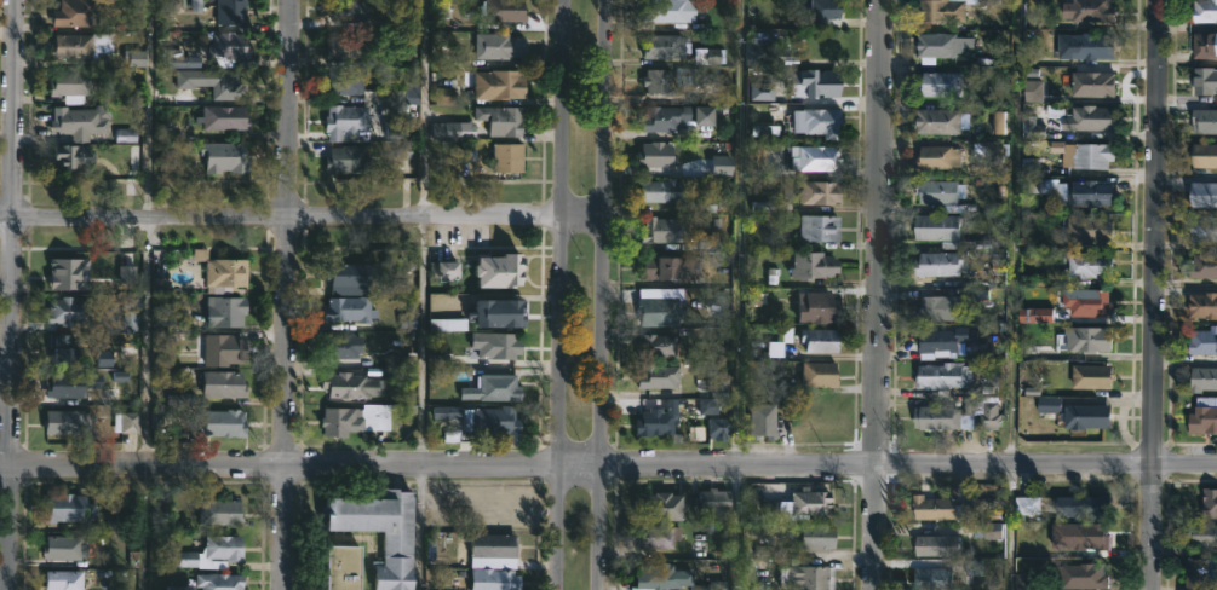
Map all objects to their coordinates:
building: (504, 10)
building: (942, 10)
building: (1085, 10)
building: (348, 11)
building: (666, 11)
building: (1202, 11)
building: (231, 12)
building: (78, 13)
building: (935, 45)
building: (231, 46)
building: (349, 46)
building: (499, 46)
building: (1089, 46)
building: (1204, 46)
building: (73, 47)
building: (660, 47)
building: (211, 82)
building: (651, 82)
building: (1204, 82)
building: (501, 83)
building: (822, 83)
building: (937, 85)
building: (1090, 85)
building: (73, 87)
building: (372, 91)
road: (148, 110)
road: (426, 110)
building: (225, 117)
building: (1080, 117)
building: (677, 118)
building: (503, 120)
building: (1202, 121)
building: (81, 122)
building: (348, 122)
building: (819, 122)
building: (935, 122)
building: (653, 155)
building: (1085, 155)
building: (1202, 156)
building: (76, 157)
building: (225, 157)
building: (510, 157)
building: (349, 158)
building: (935, 158)
building: (809, 160)
building: (408, 166)
building: (659, 191)
building: (817, 193)
building: (1086, 193)
building: (936, 195)
building: (1202, 196)
road: (304, 219)
building: (934, 227)
building: (654, 229)
building: (817, 229)
building: (1202, 229)
building: (1086, 230)
road: (741, 235)
building: (936, 262)
building: (808, 264)
building: (1085, 264)
building: (1201, 264)
building: (668, 266)
building: (505, 267)
building: (447, 268)
building: (226, 271)
building: (80, 272)
building: (348, 273)
road: (16, 294)
road: (879, 294)
road: (1014, 294)
road: (287, 295)
road: (562, 295)
road: (605, 295)
road: (1152, 295)
building: (1085, 301)
building: (1201, 303)
building: (814, 306)
building: (351, 307)
building: (929, 307)
building: (71, 310)
building: (226, 310)
building: (656, 310)
building: (503, 311)
building: (1084, 337)
building: (815, 339)
building: (942, 339)
building: (1201, 341)
road: (419, 343)
building: (499, 343)
road: (147, 345)
building: (341, 345)
building: (653, 345)
building: (63, 347)
building: (225, 348)
building: (815, 372)
building: (940, 375)
building: (1089, 375)
building: (656, 376)
building: (1202, 377)
building: (717, 382)
building: (73, 383)
building: (225, 383)
building: (354, 384)
building: (496, 387)
building: (1032, 411)
building: (1084, 415)
building: (1202, 415)
building: (934, 416)
building: (127, 418)
building: (655, 420)
building: (226, 421)
building: (340, 421)
building: (495, 421)
building: (762, 421)
building: (70, 422)
building: (719, 428)
road: (608, 469)
building: (714, 502)
building: (654, 504)
building: (796, 504)
building: (1211, 504)
building: (1081, 505)
building: (70, 507)
building: (930, 507)
building: (1029, 507)
building: (222, 511)
road: (143, 528)
road: (423, 530)
road: (734, 530)
building: (654, 534)
building: (1201, 534)
building: (810, 536)
building: (1086, 536)
building: (494, 544)
building: (931, 544)
building: (400, 545)
building: (68, 546)
building: (225, 546)
building: (348, 566)
building: (1199, 573)
building: (658, 575)
building: (803, 575)
building: (1077, 575)
building: (930, 578)
building: (65, 579)
building: (496, 579)
building: (220, 580)
building: (183, 586)

